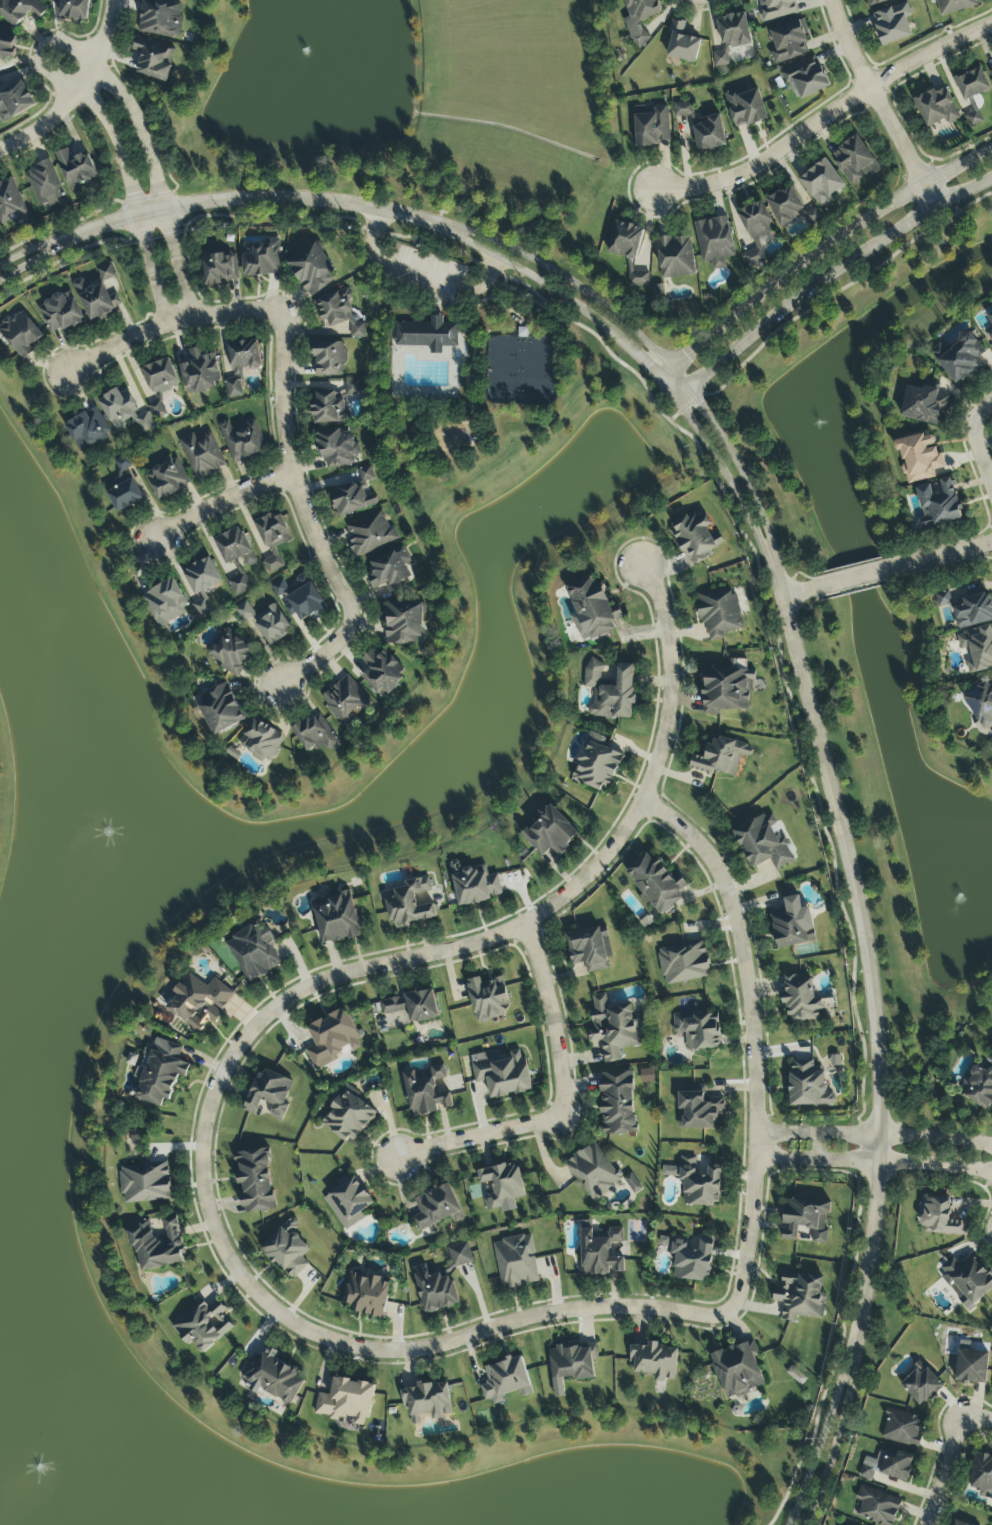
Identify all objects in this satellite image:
building: (875, 2)
building: (955, 6)
building: (75, 9)
building: (776, 9)
building: (20, 10)
building: (160, 18)
building: (639, 18)
building: (893, 24)
road: (105, 34)
building: (731, 37)
building: (789, 42)
road: (49, 44)
building: (682, 44)
building: (7, 45)
fountain: (308, 48)
building: (153, 59)
building: (991, 74)
building: (805, 79)
building: (972, 93)
building: (15, 102)
road: (882, 103)
building: (936, 107)
building: (745, 108)
building: (683, 109)
road: (50, 115)
road: (827, 118)
building: (651, 127)
building: (709, 134)
building: (854, 161)
building: (76, 169)
building: (821, 182)
building: (45, 184)
road: (253, 198)
building: (10, 201)
building: (785, 206)
building: (756, 232)
building: (714, 242)
road: (34, 249)
building: (628, 250)
road: (817, 251)
building: (675, 257)
building: (263, 260)
road: (34, 261)
road: (179, 261)
road: (150, 269)
building: (219, 269)
building: (312, 270)
road: (421, 273)
building: (106, 274)
road: (826, 276)
road: (576, 289)
road: (556, 290)
building: (98, 301)
building: (338, 312)
building: (60, 313)
road: (170, 320)
building: (988, 322)
building: (20, 334)
building: (427, 335)
building: (990, 336)
park: (464, 351)
building: (962, 355)
building: (329, 359)
building: (241, 365)
park: (525, 365)
building: (200, 371)
building: (160, 377)
building: (352, 388)
building: (924, 407)
building: (328, 408)
building: (158, 410)
building: (124, 412)
fountain: (808, 415)
road: (983, 416)
building: (87, 430)
road: (986, 434)
building: (242, 440)
building: (336, 448)
road: (984, 448)
building: (202, 455)
building: (920, 459)
road: (718, 463)
road: (739, 468)
building: (365, 474)
building: (167, 479)
road: (977, 485)
building: (124, 493)
building: (352, 500)
road: (221, 502)
building: (938, 506)
fountain: (530, 512)
road: (308, 516)
building: (370, 533)
building: (695, 536)
building: (273, 539)
building: (234, 547)
road: (955, 553)
road: (959, 560)
road: (869, 564)
building: (390, 570)
road: (797, 573)
building: (202, 576)
road: (864, 579)
building: (239, 584)
road: (874, 586)
road: (798, 597)
building: (299, 598)
building: (943, 599)
building: (164, 600)
road: (805, 606)
building: (592, 609)
building: (974, 611)
building: (244, 612)
building: (719, 614)
building: (404, 622)
building: (272, 625)
building: (977, 648)
building: (230, 652)
building: (382, 673)
building: (726, 690)
building: (610, 692)
building: (346, 701)
building: (981, 704)
building: (220, 709)
building: (315, 734)
building: (261, 741)
building: (235, 752)
building: (720, 756)
building: (596, 764)
building: (550, 833)
building: (764, 843)
fountain: (128, 858)
road: (588, 873)
fountain: (976, 882)
building: (474, 885)
building: (409, 904)
building: (336, 918)
building: (793, 924)
building: (589, 948)
road: (871, 950)
building: (253, 953)
building: (684, 963)
building: (800, 998)
building: (488, 999)
building: (198, 1002)
building: (412, 1006)
road: (750, 1023)
building: (613, 1028)
building: (698, 1030)
building: (332, 1039)
building: (162, 1072)
building: (502, 1074)
building: (808, 1085)
building: (978, 1087)
building: (426, 1091)
building: (269, 1094)
building: (618, 1103)
road: (562, 1108)
building: (698, 1111)
building: (348, 1117)
road: (788, 1133)
road: (905, 1137)
road: (818, 1147)
road: (787, 1158)
road: (905, 1164)
building: (593, 1171)
building: (255, 1180)
building: (697, 1182)
building: (145, 1183)
building: (632, 1184)
building: (502, 1187)
building: (349, 1203)
building: (437, 1207)
building: (939, 1217)
building: (805, 1221)
building: (158, 1246)
building: (600, 1251)
building: (287, 1252)
building: (460, 1255)
building: (692, 1257)
building: (516, 1262)
building: (967, 1280)
building: (434, 1290)
building: (366, 1295)
building: (800, 1296)
building: (203, 1325)
road: (339, 1343)
building: (655, 1361)
building: (571, 1364)
building: (971, 1367)
building: (738, 1369)
building: (272, 1377)
building: (506, 1381)
building: (921, 1385)
building: (346, 1401)
building: (427, 1401)
road: (977, 1417)
building: (903, 1429)
road: (820, 1439)
road: (835, 1441)
fountain: (62, 1452)
building: (893, 1469)
road: (946, 1470)
building: (866, 1473)
building: (982, 1476)
building: (877, 1506)
building: (957, 1523)

